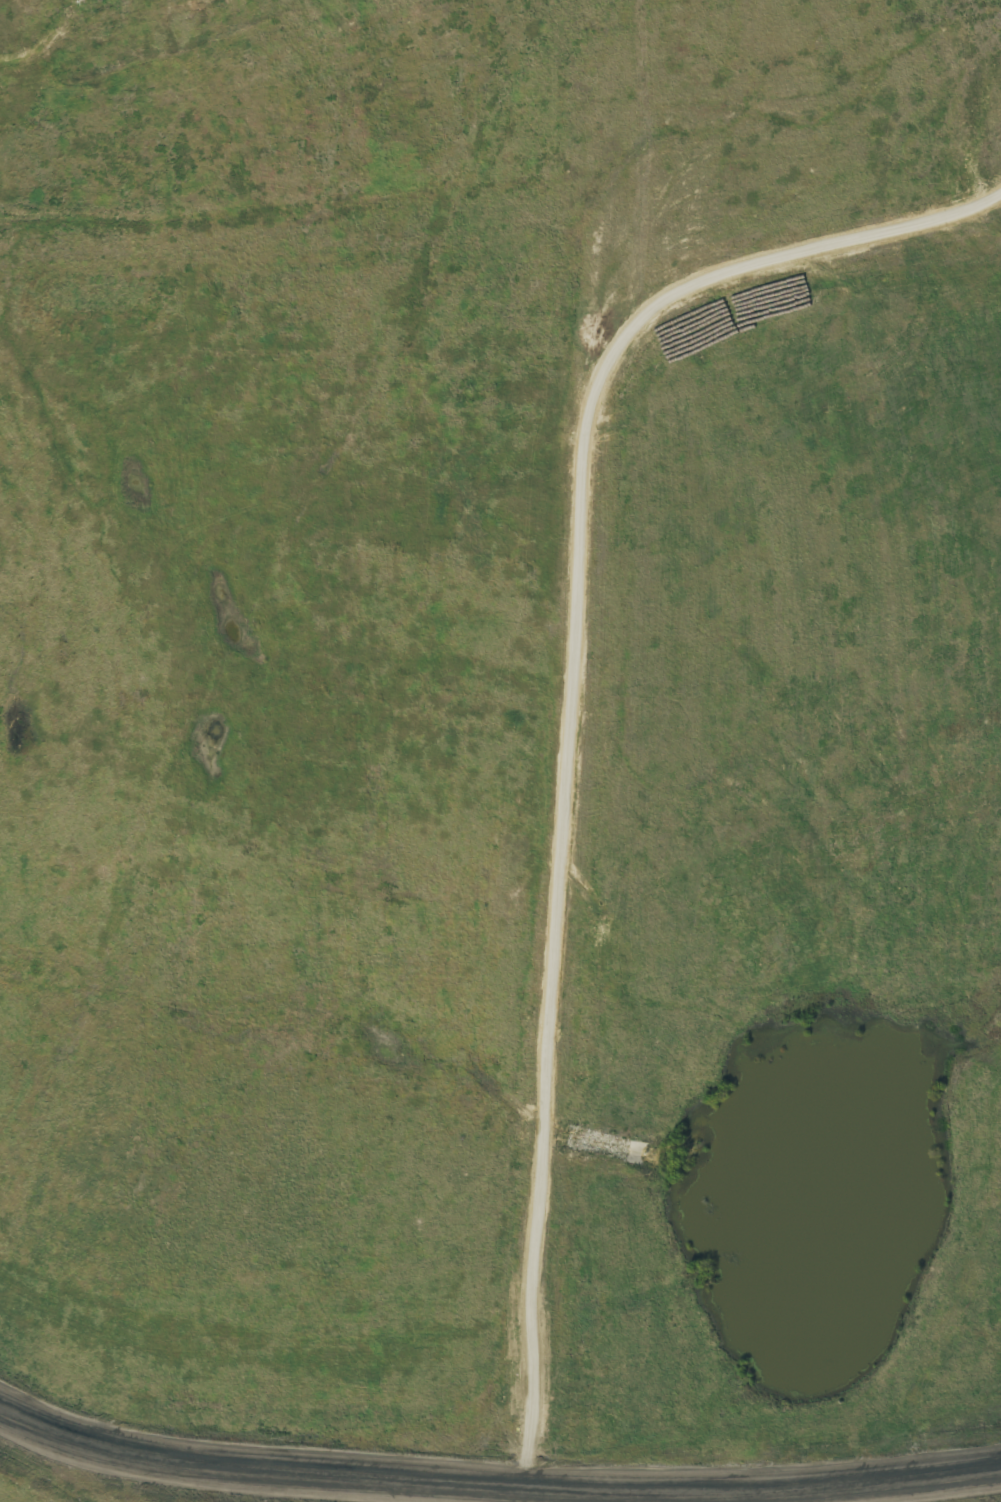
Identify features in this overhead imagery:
road: (573, 707)
quarry: (726, 921)
road: (491, 1489)

